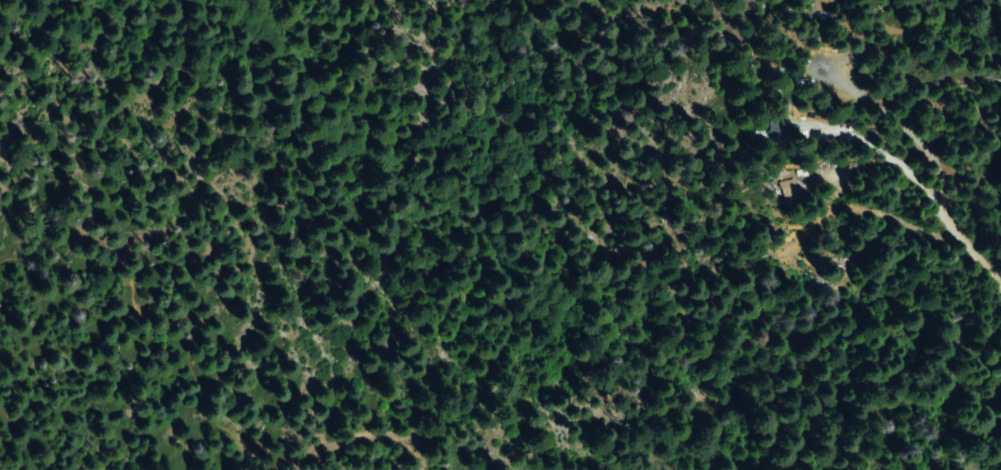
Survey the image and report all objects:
building: (774, 133)
building: (787, 189)
road: (338, 427)

